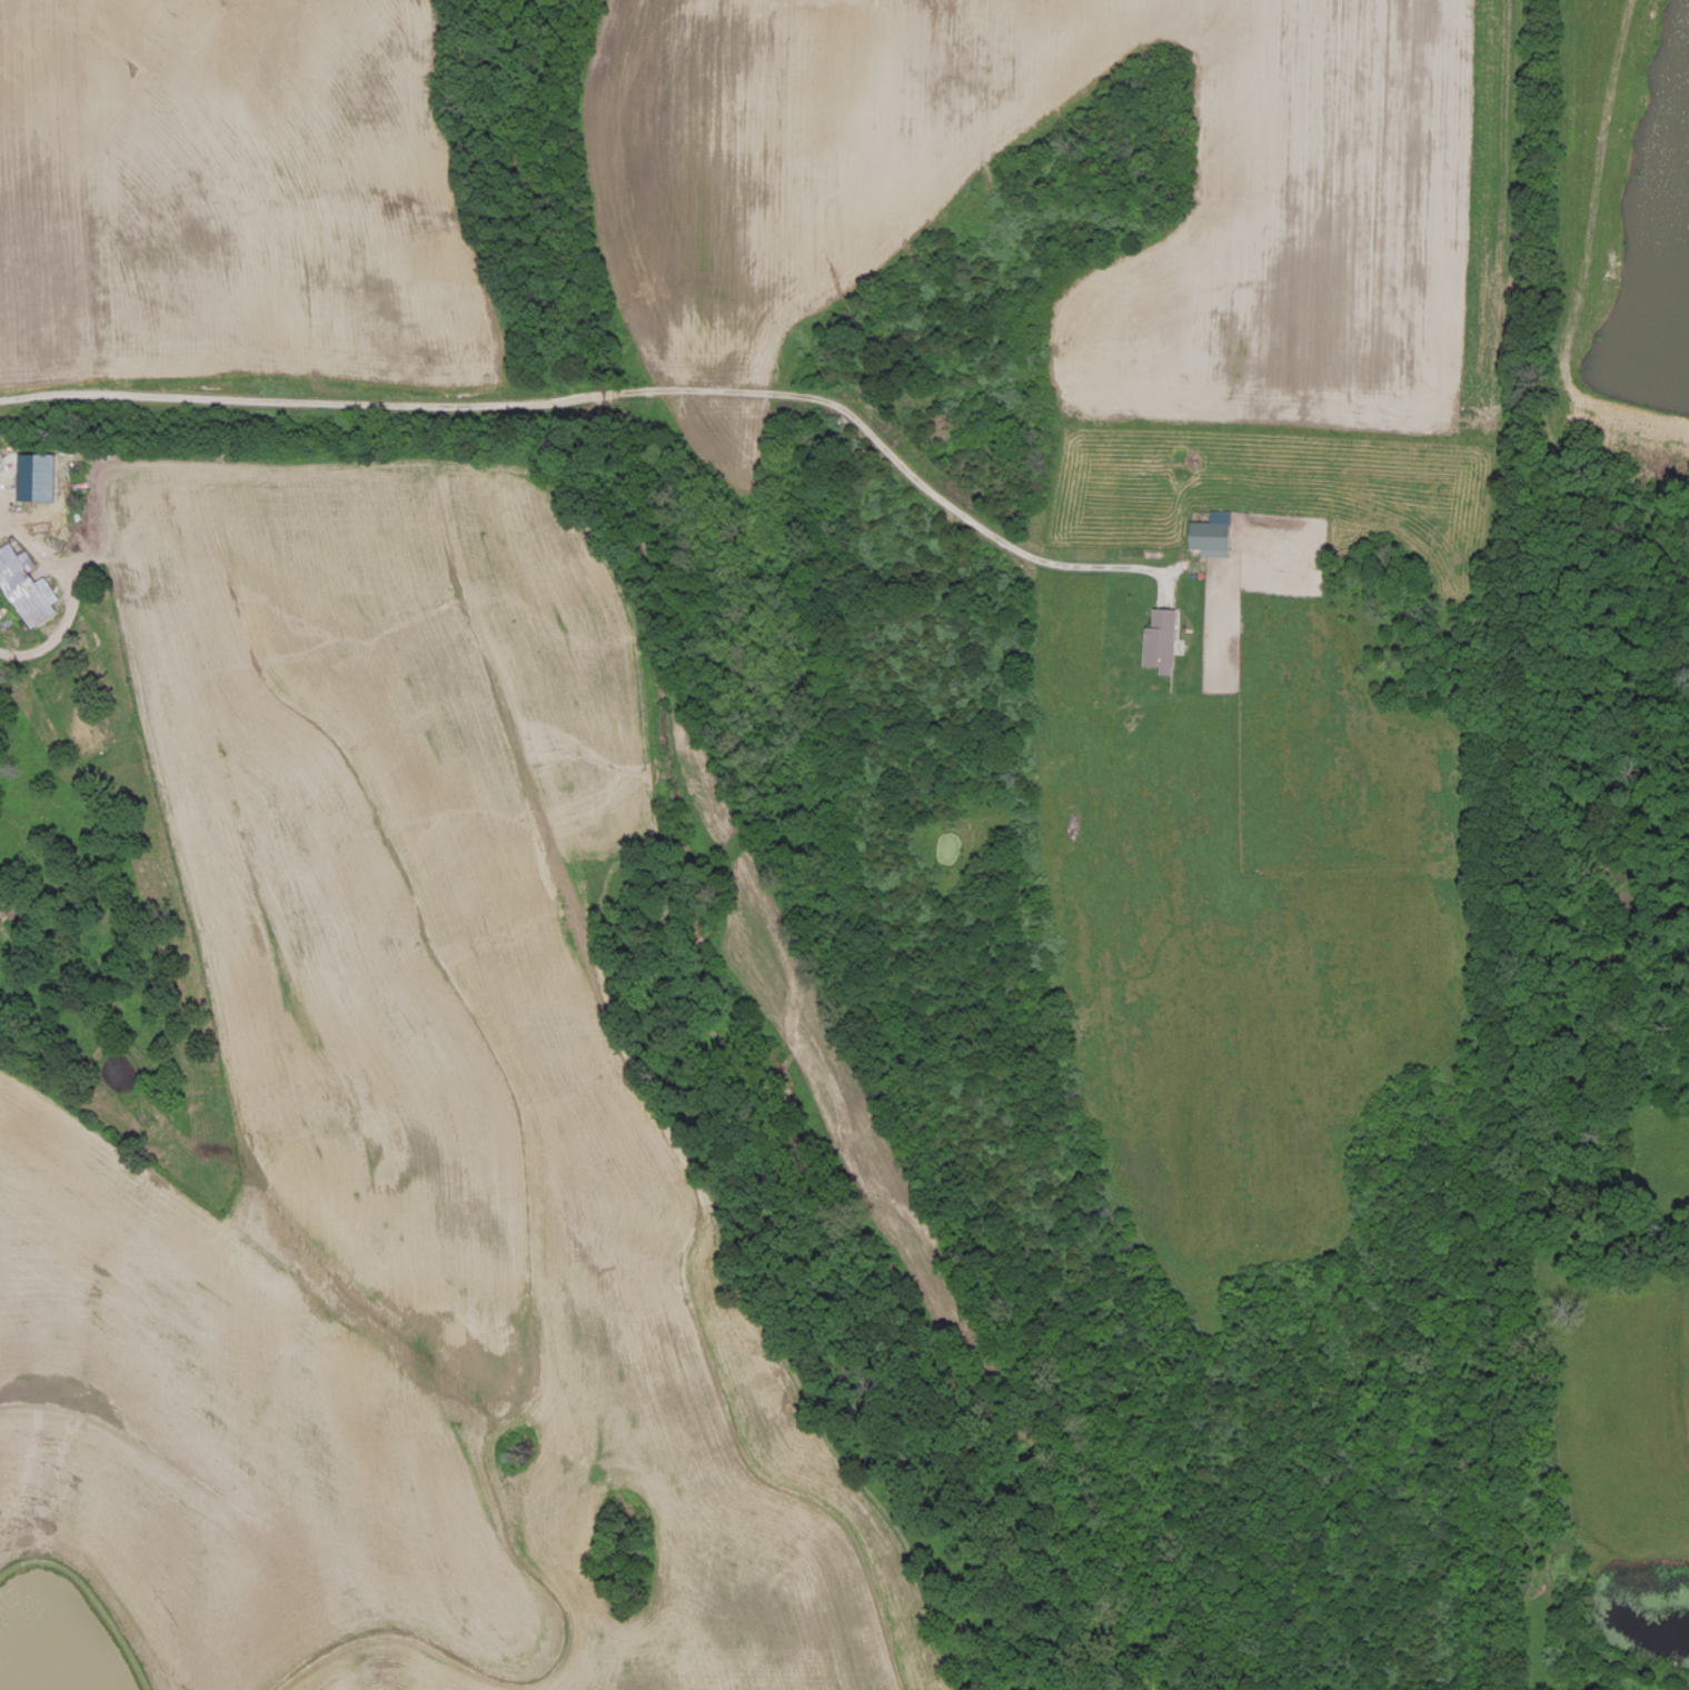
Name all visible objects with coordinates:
road: (612, 391)
building: (24, 585)
road: (69, 589)

